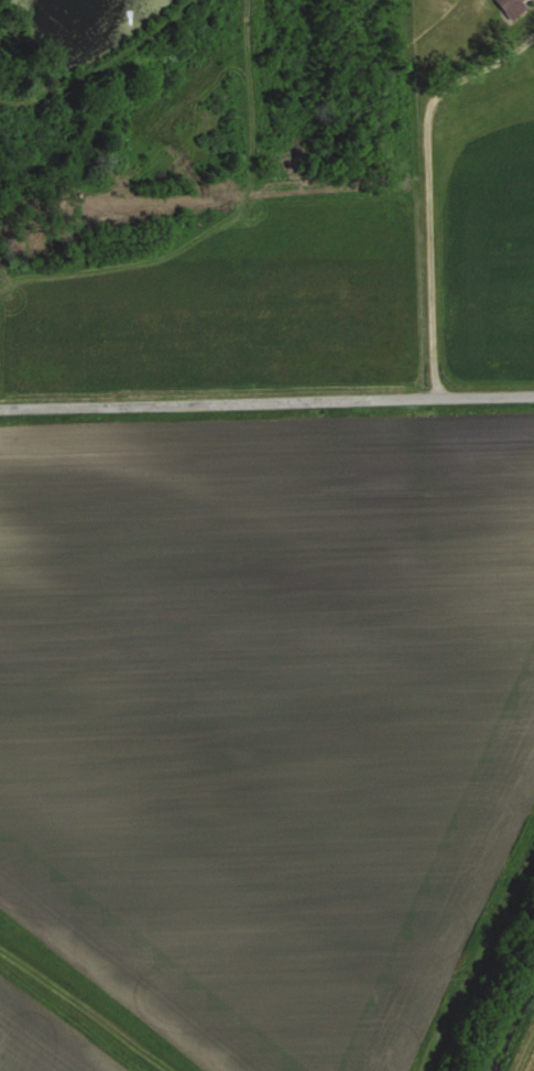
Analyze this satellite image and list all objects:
building: (513, 8)
road: (427, 181)
road: (266, 391)

